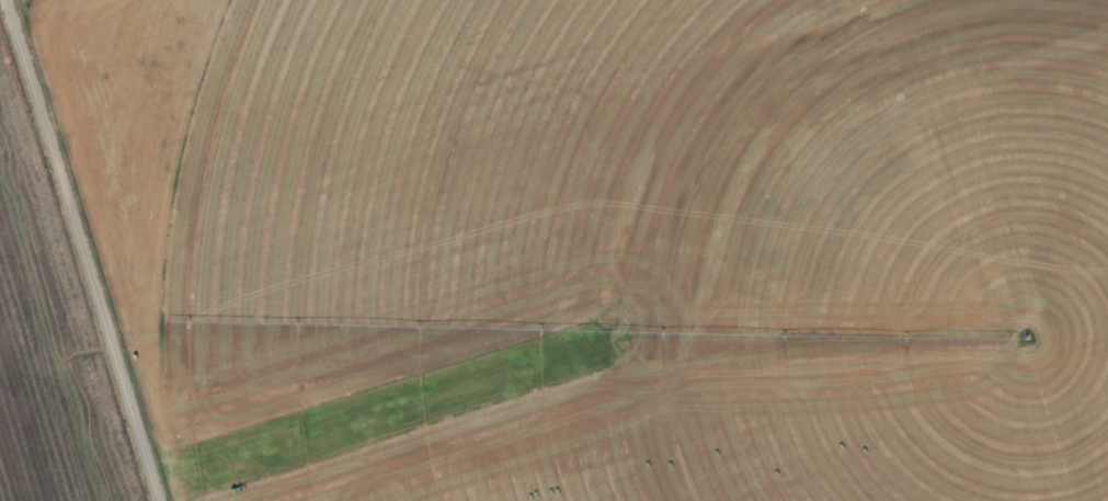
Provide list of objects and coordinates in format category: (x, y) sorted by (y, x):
road: (87, 250)

